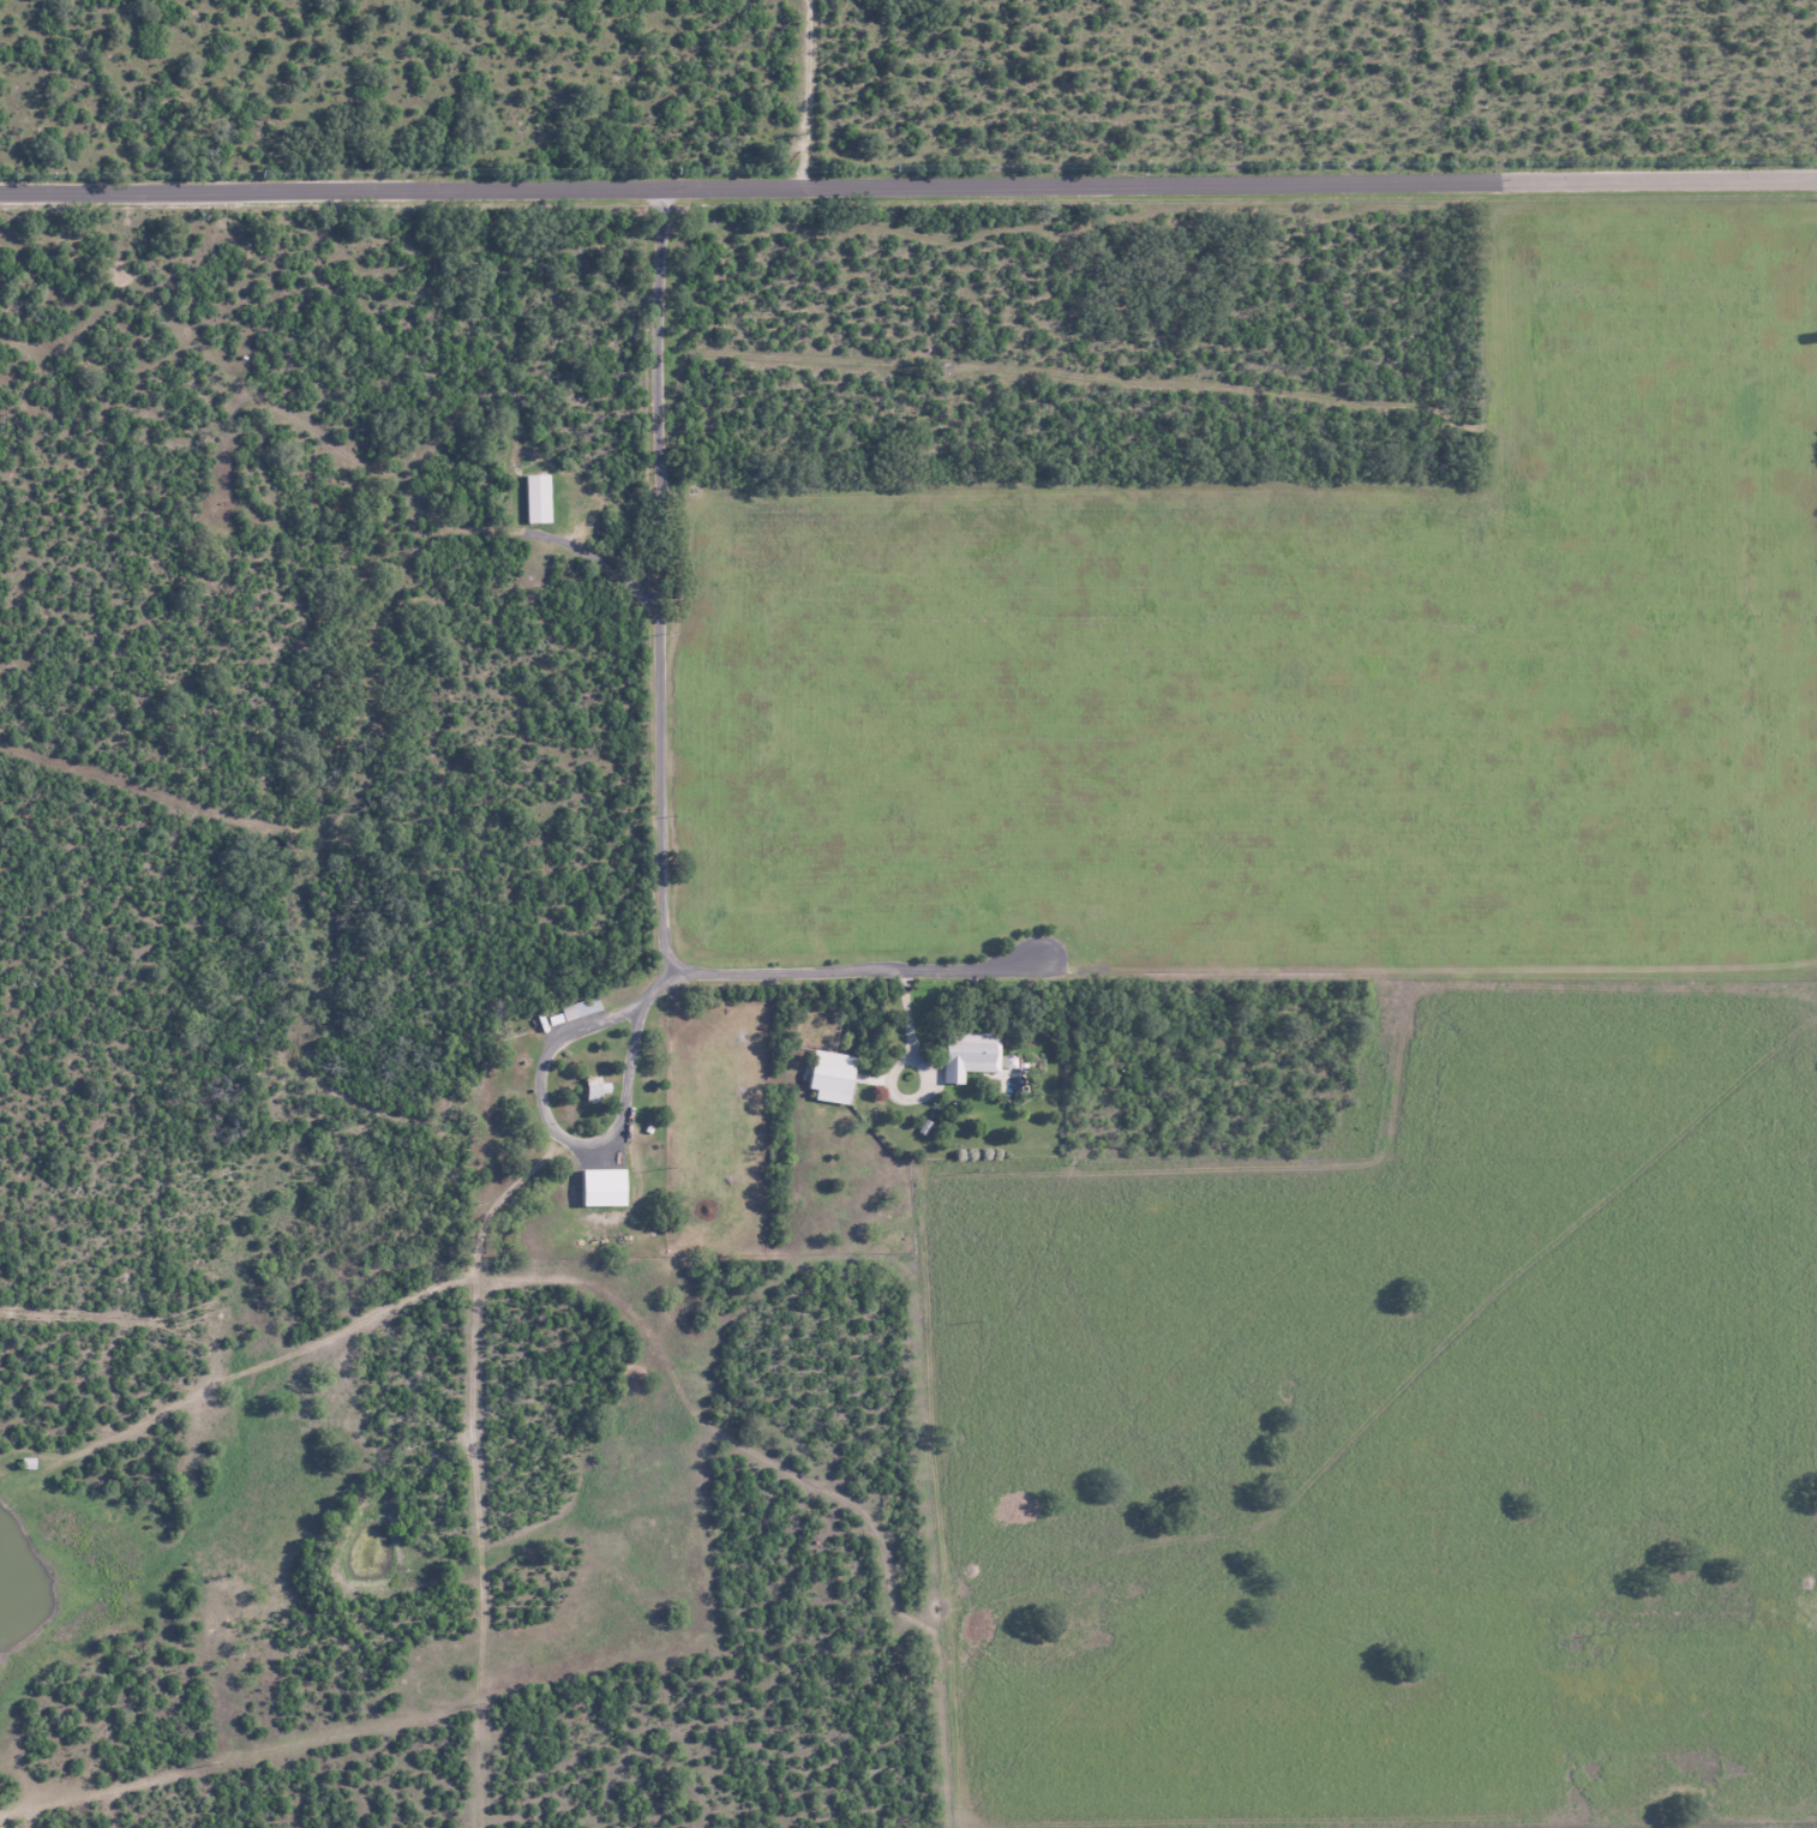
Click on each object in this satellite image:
road: (805, 92)
road: (907, 186)
road: (659, 579)
road: (852, 975)
building: (580, 1007)
building: (969, 1054)
building: (832, 1074)
building: (594, 1087)
road: (544, 1110)

